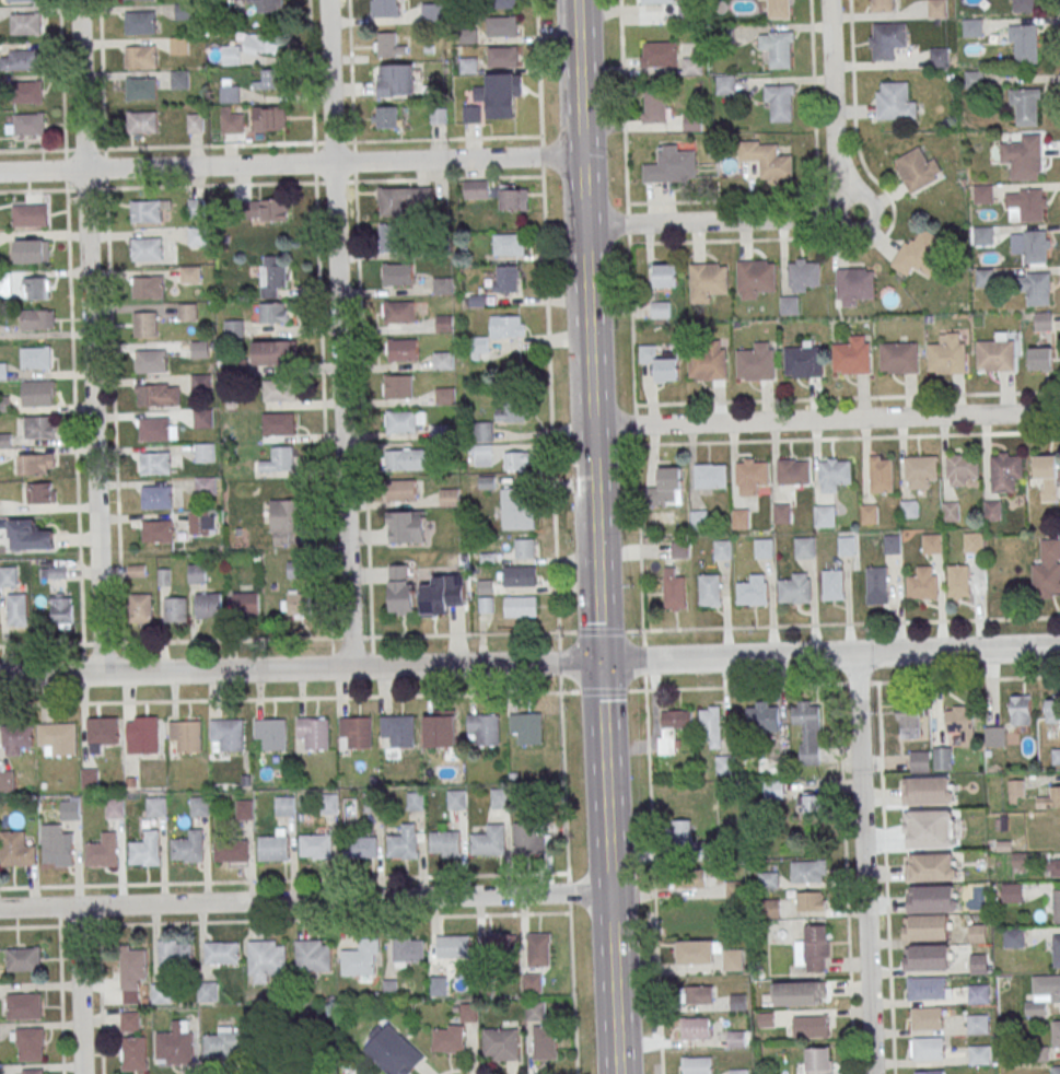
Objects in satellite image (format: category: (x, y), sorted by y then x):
building: (135, 0)
building: (21, 1)
building: (656, 1)
building: (503, 4)
building: (266, 5)
building: (882, 5)
building: (1024, 5)
building: (385, 8)
building: (777, 9)
building: (937, 9)
building: (430, 12)
building: (687, 15)
building: (140, 23)
building: (25, 24)
building: (503, 26)
building: (972, 27)
building: (886, 39)
building: (1026, 43)
building: (261, 44)
building: (178, 45)
building: (387, 46)
building: (779, 50)
building: (657, 54)
building: (231, 55)
building: (140, 56)
building: (502, 57)
building: (939, 58)
building: (19, 60)
building: (691, 67)
road: (538, 68)
road: (350, 70)
road: (311, 71)
road: (102, 74)
road: (852, 78)
building: (179, 80)
building: (268, 80)
building: (395, 80)
building: (725, 85)
building: (140, 89)
building: (26, 92)
building: (502, 95)
building: (779, 102)
building: (894, 102)
building: (655, 104)
building: (1027, 106)
road: (579, 113)
building: (471, 114)
building: (438, 116)
building: (385, 118)
building: (269, 119)
building: (142, 122)
building: (195, 122)
building: (232, 122)
building: (28, 124)
road: (32, 150)
building: (1024, 156)
building: (767, 159)
road: (314, 162)
road: (290, 163)
building: (671, 166)
building: (917, 170)
road: (65, 171)
road: (544, 176)
building: (477, 189)
road: (33, 190)
road: (815, 190)
building: (982, 195)
building: (514, 200)
building: (389, 202)
building: (1027, 203)
building: (196, 208)
building: (267, 210)
building: (145, 211)
road: (627, 214)
building: (28, 215)
road: (811, 218)
building: (197, 236)
building: (982, 236)
building: (391, 238)
building: (509, 245)
building: (1035, 246)
building: (147, 248)
building: (31, 252)
building: (918, 253)
building: (190, 275)
building: (397, 275)
building: (271, 276)
building: (666, 276)
building: (803, 276)
building: (755, 277)
building: (506, 279)
building: (983, 279)
building: (708, 281)
building: (442, 285)
building: (854, 285)
building: (149, 288)
building: (1038, 288)
building: (35, 289)
building: (789, 305)
building: (660, 310)
building: (187, 312)
building: (272, 313)
building: (398, 313)
building: (36, 320)
building: (1042, 322)
building: (145, 324)
building: (444, 324)
building: (233, 329)
road: (340, 334)
building: (497, 335)
road: (89, 337)
building: (199, 349)
building: (401, 350)
building: (275, 352)
building: (997, 354)
building: (852, 355)
building: (948, 355)
building: (35, 358)
building: (899, 358)
building: (1039, 359)
building: (151, 361)
building: (442, 361)
building: (804, 361)
building: (709, 362)
building: (757, 362)
building: (660, 365)
building: (2, 371)
building: (514, 377)
building: (200, 383)
road: (589, 384)
building: (397, 386)
building: (279, 390)
building: (38, 392)
building: (156, 395)
building: (444, 396)
road: (551, 404)
building: (509, 412)
road: (73, 417)
building: (202, 419)
road: (825, 420)
building: (405, 421)
building: (278, 424)
building: (38, 427)
building: (154, 429)
building: (482, 443)
building: (203, 453)
building: (280, 459)
building: (405, 459)
building: (516, 462)
building: (155, 463)
building: (35, 464)
building: (963, 466)
building: (1006, 466)
building: (921, 467)
building: (793, 470)
building: (835, 470)
building: (753, 472)
building: (881, 475)
building: (710, 476)
building: (1046, 478)
building: (205, 486)
building: (665, 489)
building: (401, 490)
building: (40, 493)
building: (156, 497)
building: (449, 498)
building: (516, 509)
building: (910, 509)
building: (993, 510)
building: (952, 511)
building: (782, 513)
building: (824, 514)
building: (871, 514)
building: (741, 518)
building: (699, 520)
building: (198, 523)
building: (286, 523)
building: (406, 527)
building: (156, 532)
building: (32, 537)
building: (974, 542)
building: (893, 544)
building: (932, 544)
building: (847, 546)
building: (764, 548)
building: (804, 548)
building: (525, 549)
building: (679, 549)
building: (722, 549)
building: (296, 570)
building: (136, 571)
building: (1047, 571)
building: (53, 573)
building: (196, 573)
building: (8, 576)
building: (520, 576)
building: (958, 582)
building: (876, 584)
building: (922, 584)
building: (832, 585)
building: (674, 588)
building: (795, 588)
building: (401, 589)
building: (710, 591)
building: (753, 591)
building: (442, 594)
road: (597, 602)
building: (208, 604)
building: (245, 604)
building: (295, 604)
building: (520, 606)
building: (140, 608)
building: (16, 609)
building: (174, 609)
building: (61, 612)
road: (445, 634)
road: (165, 642)
road: (829, 653)
traffic signals: (599, 662)
road: (300, 669)
road: (809, 685)
road: (559, 691)
building: (1021, 710)
building: (1052, 710)
building: (762, 717)
road: (602, 721)
building: (962, 723)
building: (711, 725)
building: (908, 725)
building: (526, 727)
building: (673, 728)
building: (484, 729)
building: (807, 729)
building: (398, 731)
building: (441, 731)
building: (314, 732)
building: (354, 733)
building: (102, 734)
building: (271, 734)
building: (186, 735)
building: (226, 735)
building: (16, 736)
building: (142, 737)
building: (57, 739)
building: (1056, 756)
building: (942, 759)
building: (919, 760)
building: (724, 764)
building: (769, 766)
building: (90, 779)
building: (7, 780)
building: (773, 790)
building: (928, 792)
building: (1015, 792)
building: (499, 798)
building: (1050, 798)
building: (456, 799)
building: (415, 801)
building: (372, 802)
building: (811, 803)
building: (329, 804)
building: (199, 806)
building: (284, 806)
building: (155, 807)
building: (114, 808)
building: (244, 809)
building: (69, 810)
building: (1013, 821)
building: (928, 829)
building: (683, 832)
building: (1051, 838)
building: (527, 839)
building: (490, 841)
building: (404, 843)
building: (444, 844)
building: (317, 845)
building: (188, 847)
building: (360, 847)
building: (275, 848)
building: (15, 849)
building: (60, 849)
building: (147, 849)
building: (709, 849)
building: (104, 850)
building: (231, 850)
building: (1020, 862)
road: (865, 863)
building: (931, 867)
building: (1051, 867)
building: (807, 872)
building: (689, 879)
road: (283, 880)
building: (767, 880)
road: (568, 883)
building: (1011, 892)
road: (304, 899)
building: (934, 899)
building: (811, 901)
building: (1057, 906)
building: (769, 909)
building: (688, 913)
road: (284, 920)
road: (610, 926)
building: (928, 927)
building: (977, 934)
building: (1013, 938)
building: (502, 944)
building: (453, 946)
building: (407, 949)
building: (538, 949)
building: (813, 949)
building: (1057, 950)
building: (695, 952)
building: (175, 953)
building: (222, 953)
building: (313, 956)
building: (267, 957)
building: (361, 958)
building: (929, 958)
building: (23, 959)
building: (732, 959)
building: (978, 964)
building: (131, 971)
building: (532, 983)
building: (1051, 987)
road: (81, 989)
building: (928, 989)
building: (207, 991)
building: (161, 993)
building: (799, 993)
building: (698, 994)
building: (977, 994)
road: (60, 1000)
road: (101, 1000)
building: (737, 1002)
building: (24, 1006)
building: (536, 1011)
building: (927, 1018)
building: (765, 1019)
building: (129, 1022)
building: (978, 1024)
building: (809, 1026)
building: (695, 1028)
building: (1056, 1034)
building: (736, 1038)
building: (450, 1039)
building: (545, 1042)
building: (175, 1043)
building: (226, 1043)
building: (501, 1043)
building: (27, 1044)
building: (929, 1049)
building: (133, 1053)
building: (979, 1054)
building: (400, 1058)
building: (818, 1061)
building: (284, 1062)
building: (697, 1065)
building: (1053, 1070)
building: (737, 1071)
building: (33, 1072)
building: (929, 1072)

